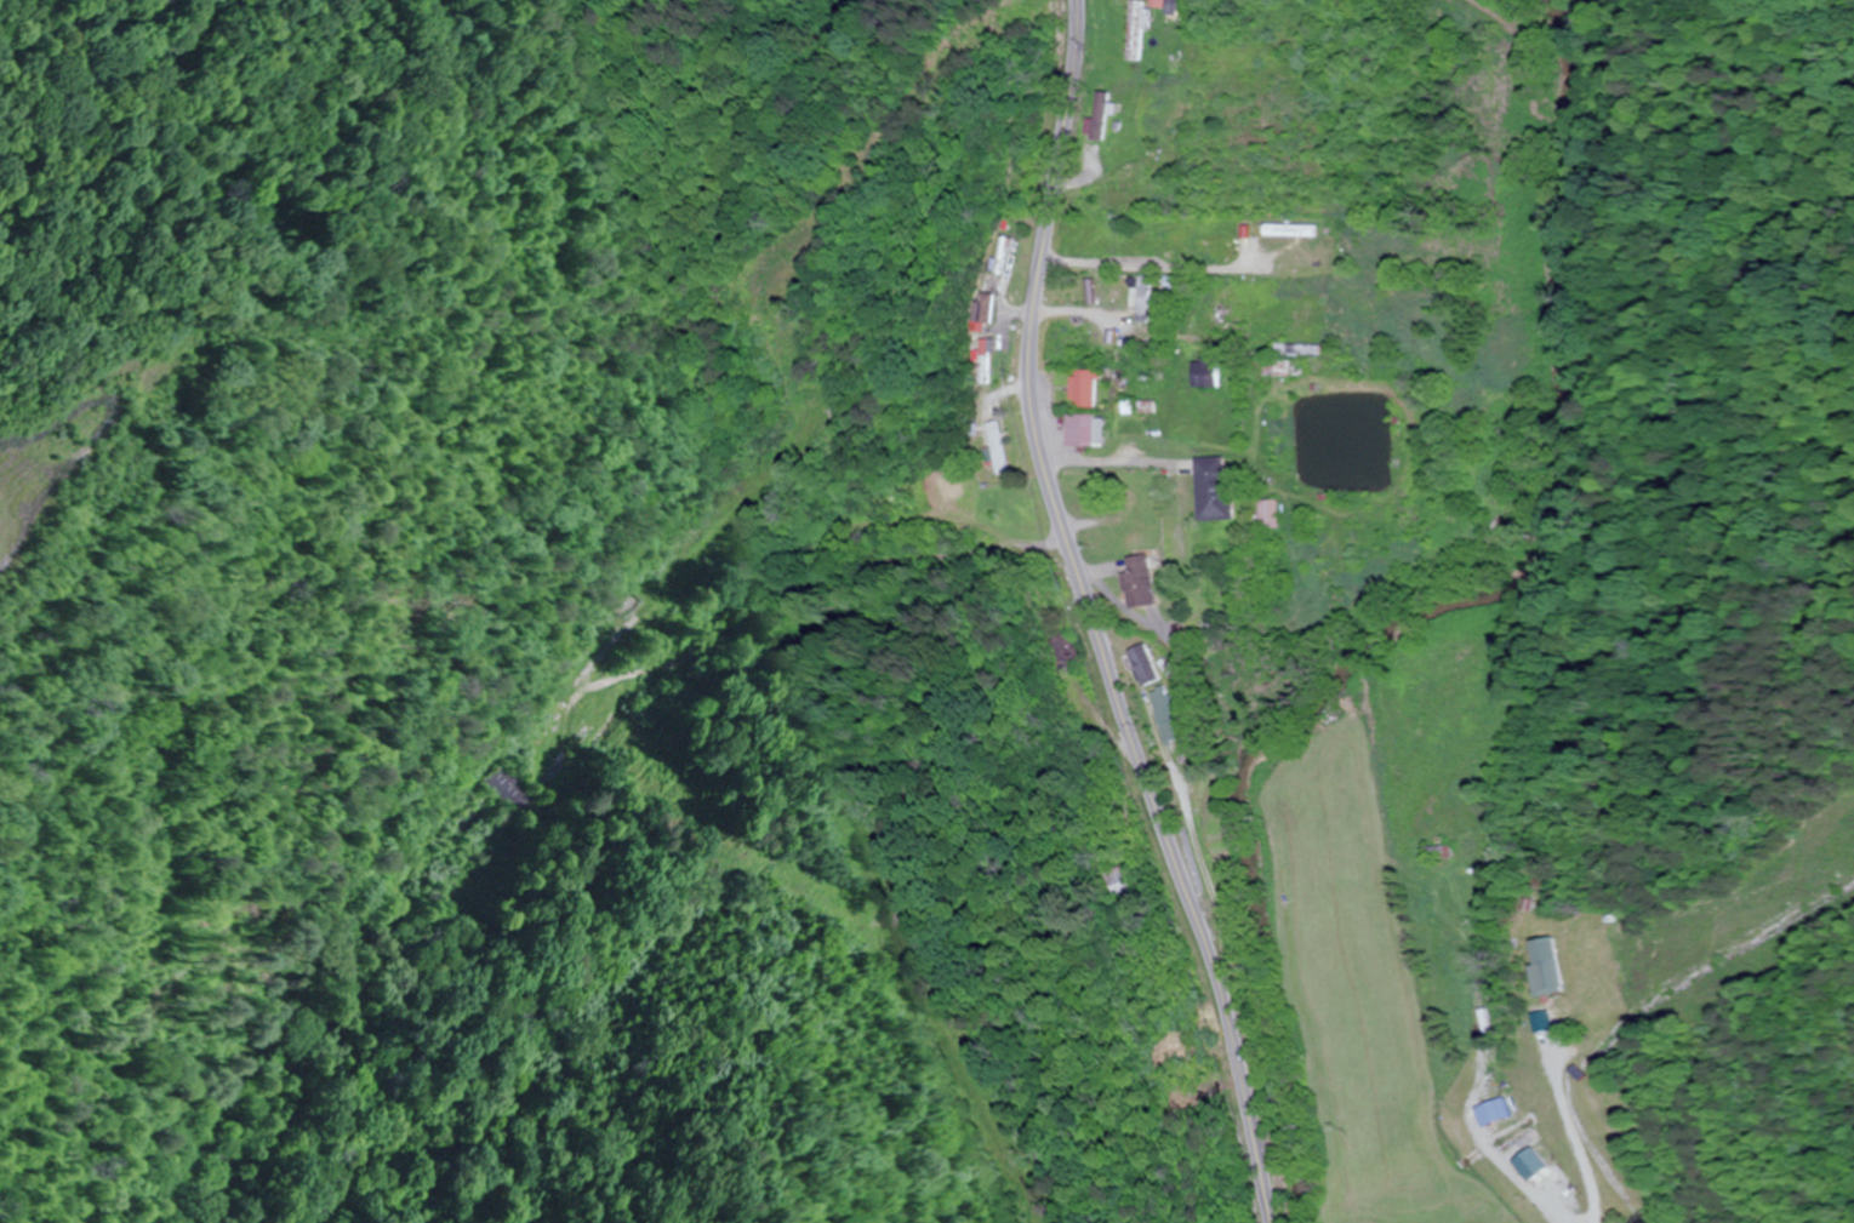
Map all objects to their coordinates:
building: (1173, 6)
building: (1136, 29)
building: (1099, 120)
building: (1117, 198)
building: (1005, 257)
building: (1112, 297)
building: (1221, 305)
building: (1297, 349)
building: (1091, 355)
building: (985, 361)
building: (1287, 368)
building: (1204, 372)
building: (1083, 388)
building: (1080, 429)
building: (1003, 448)
building: (1213, 488)
building: (1142, 492)
building: (902, 501)
building: (1268, 513)
road: (873, 562)
building: (1137, 582)
road: (1090, 618)
building: (1061, 650)
building: (1142, 664)
building: (509, 788)
building: (1118, 882)
building: (1552, 967)
road: (1581, 1139)

